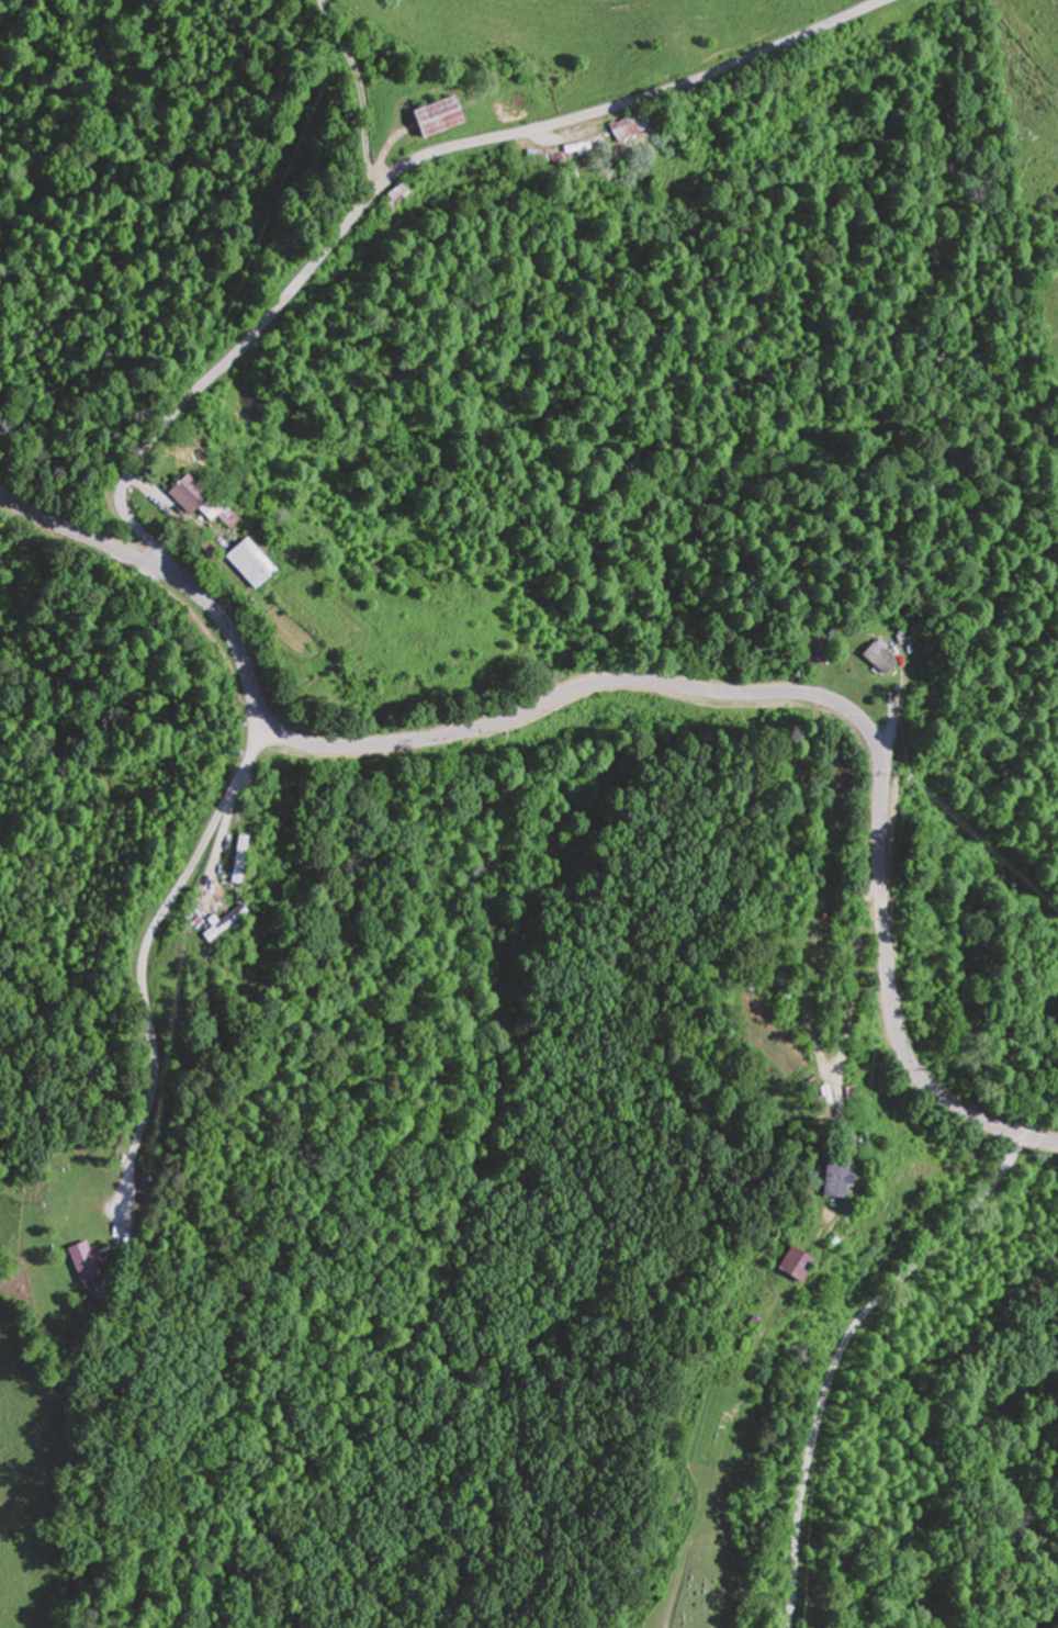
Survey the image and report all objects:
road: (361, 92)
road: (1011, 92)
building: (428, 119)
building: (621, 127)
building: (572, 149)
building: (533, 156)
road: (389, 179)
building: (394, 197)
building: (179, 497)
building: (237, 562)
building: (808, 650)
building: (868, 658)
road: (638, 681)
building: (235, 858)
building: (220, 923)
building: (829, 1177)
building: (80, 1262)
building: (789, 1265)
road: (843, 1352)
park: (720, 1431)
park: (706, 1588)

